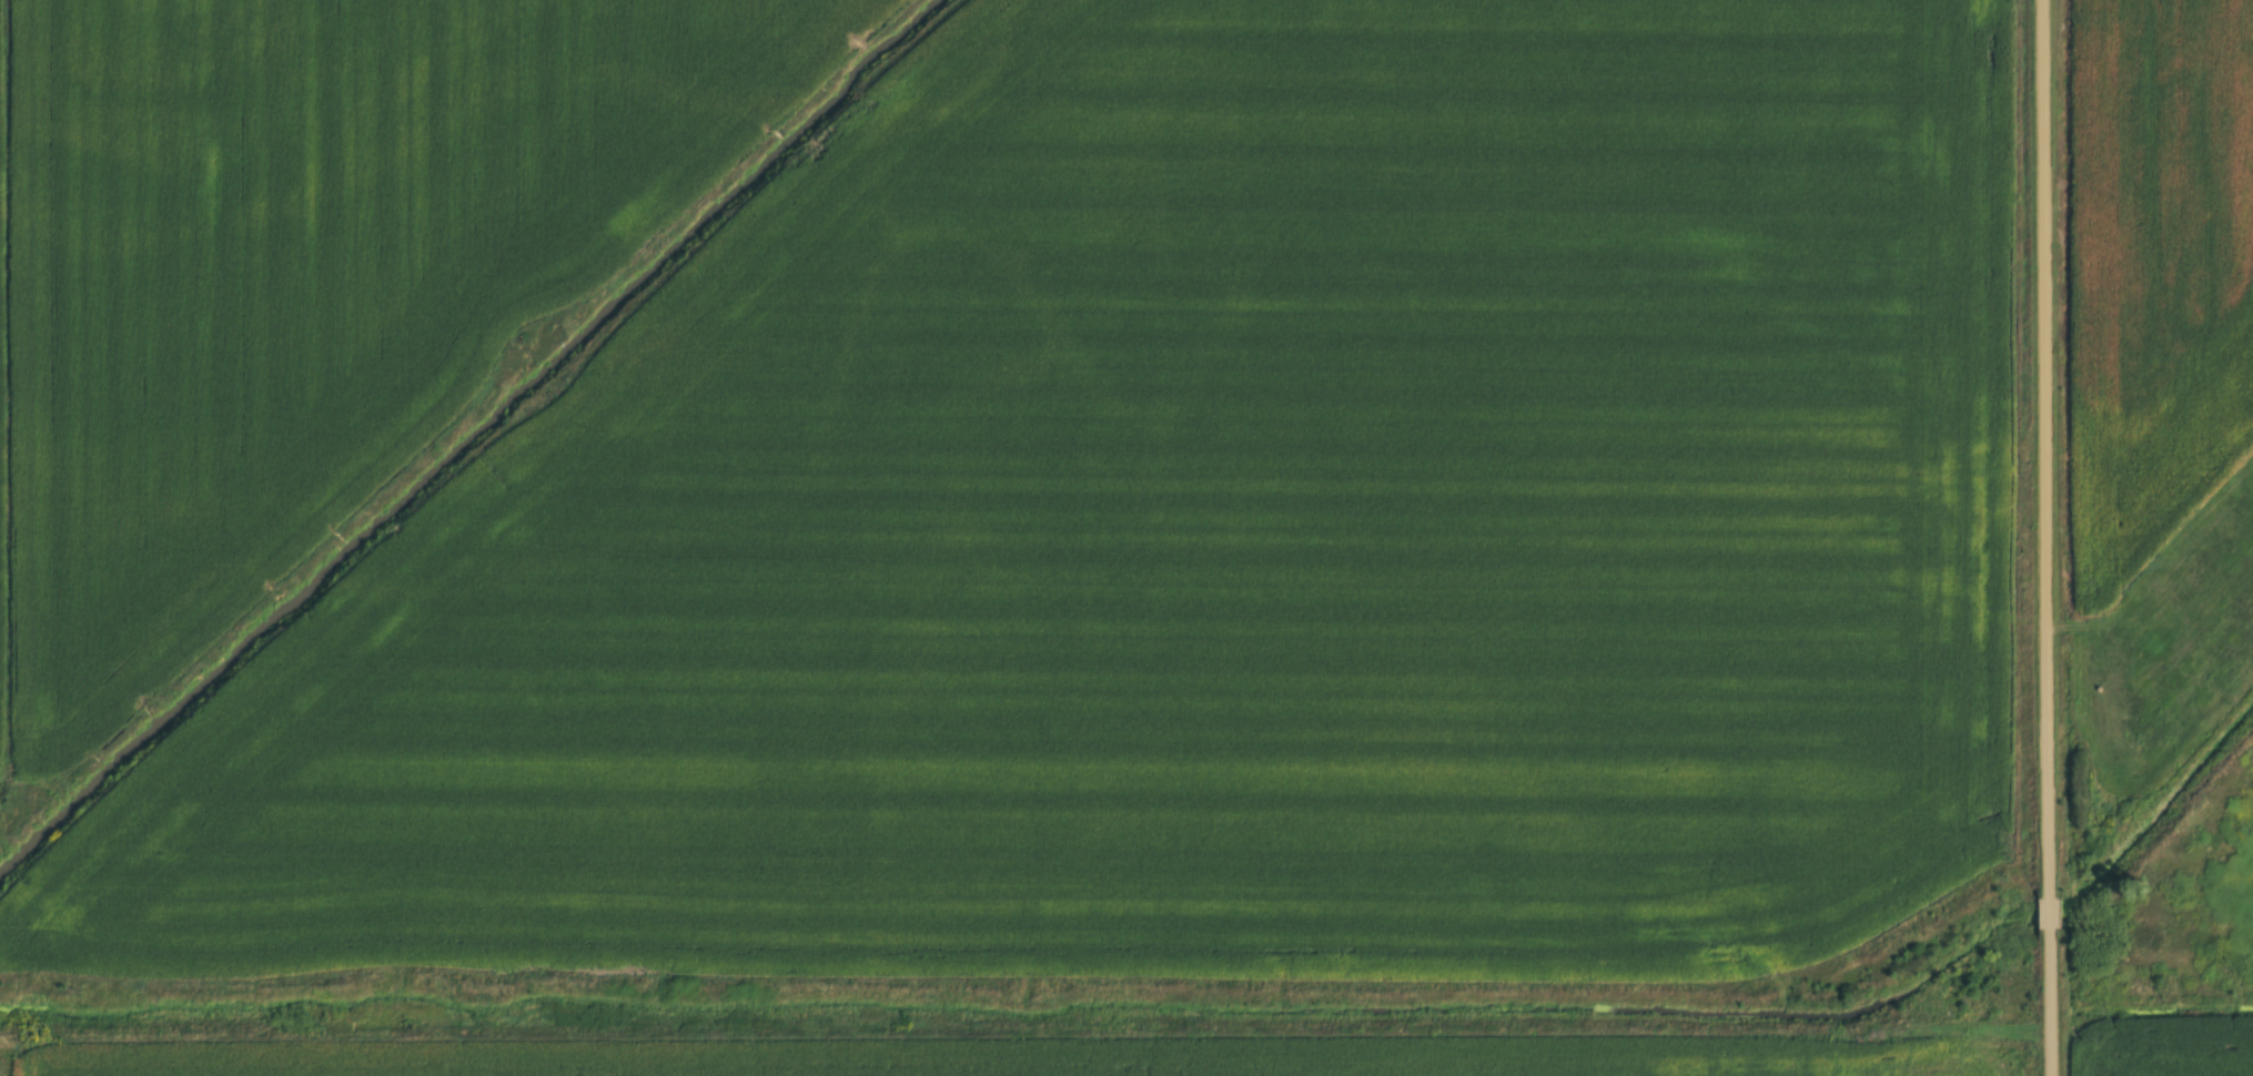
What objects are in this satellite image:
road: (2047, 446)
crop: (2164, 535)
road: (2050, 912)
road: (2050, 1003)

